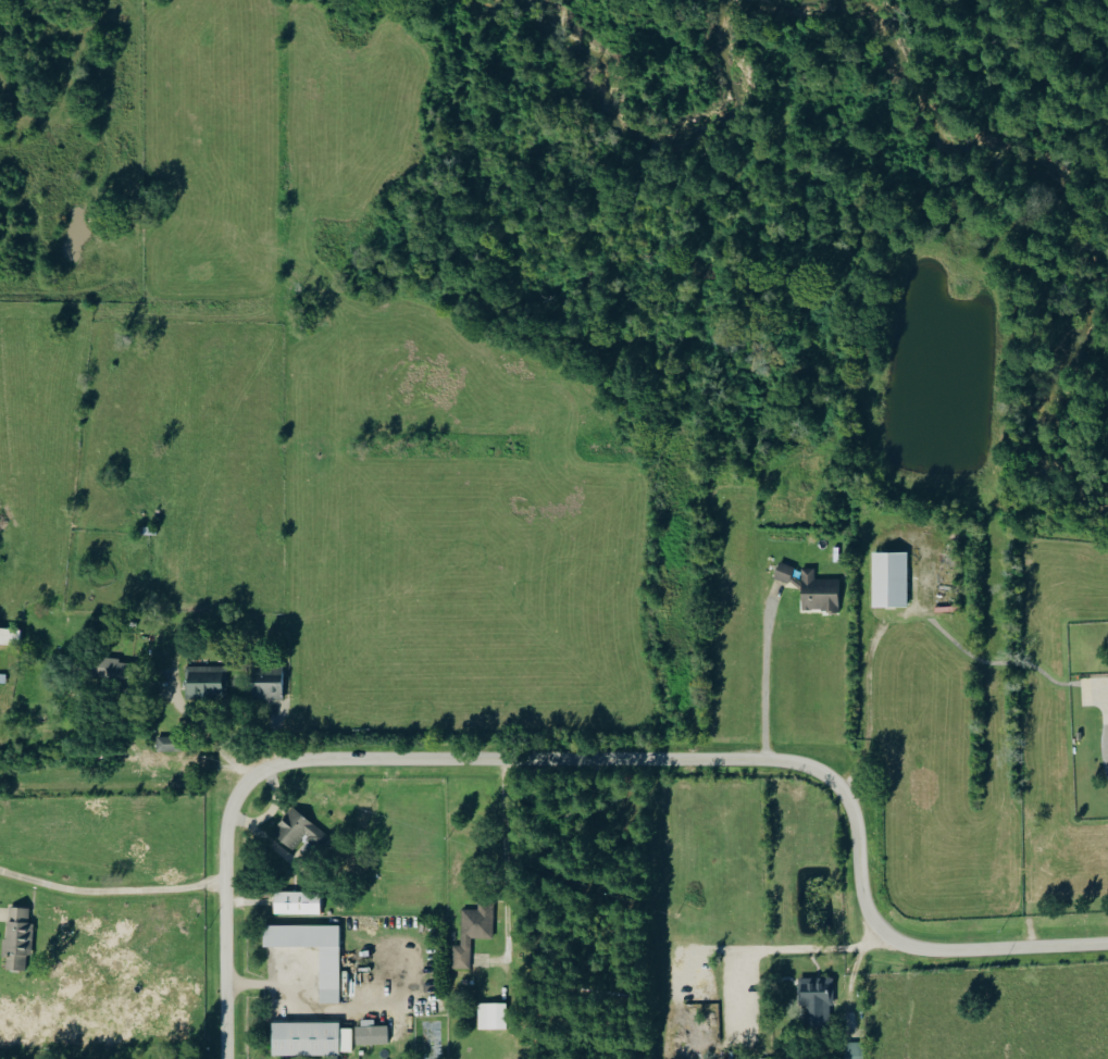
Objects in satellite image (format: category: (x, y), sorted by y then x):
river: (796, 0)
river: (644, 140)
river: (1086, 226)
building: (783, 572)
building: (889, 578)
building: (819, 591)
building: (9, 636)
building: (111, 668)
building: (206, 681)
building: (267, 681)
road: (771, 681)
road: (209, 737)
building: (166, 744)
road: (1107, 750)
road: (596, 757)
building: (296, 828)
road: (506, 857)
road: (115, 892)
building: (297, 902)
building: (473, 933)
building: (18, 934)
road: (787, 950)
building: (329, 974)
building: (816, 1001)
road: (320, 1009)
building: (491, 1016)
building: (371, 1030)
building: (310, 1038)
building: (855, 1050)

